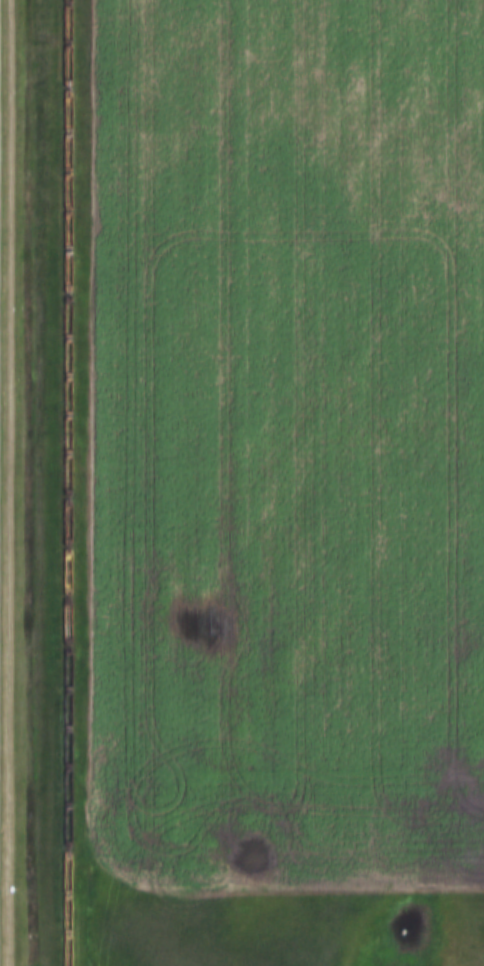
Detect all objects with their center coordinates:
railway: (64, 483)

